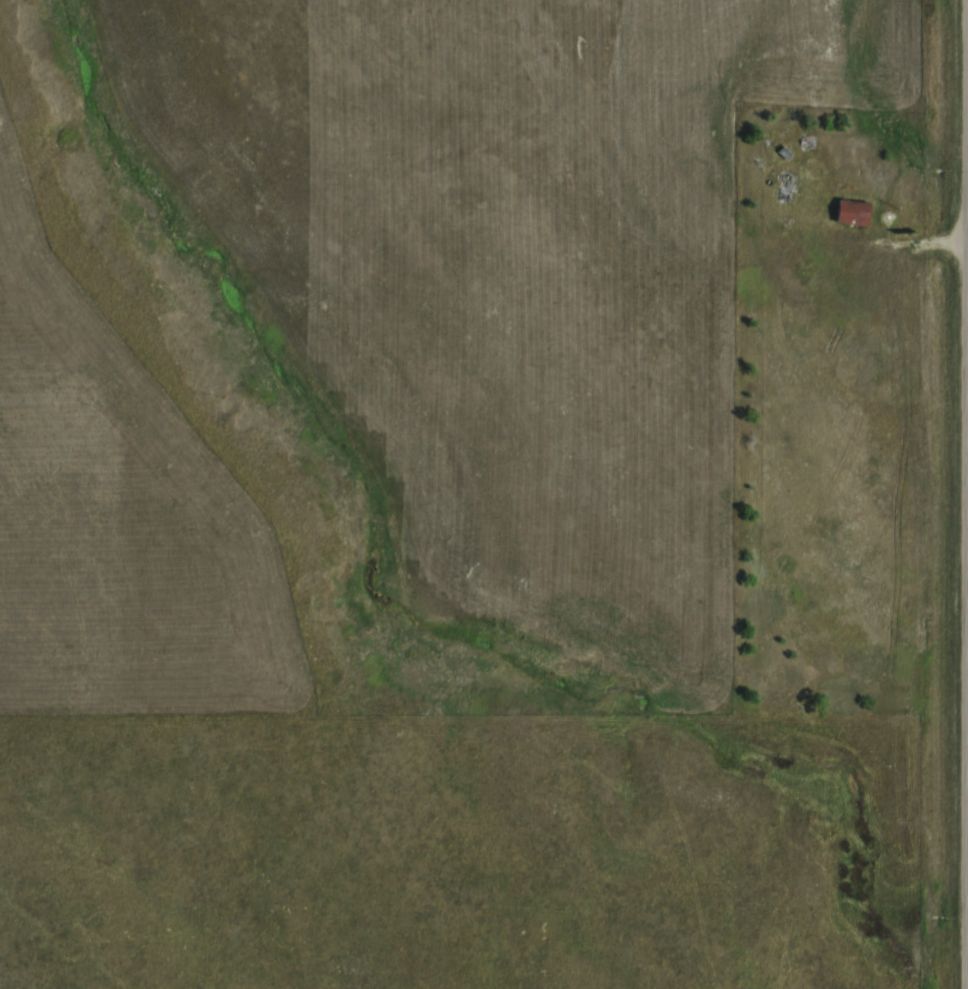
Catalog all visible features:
building: (849, 214)

